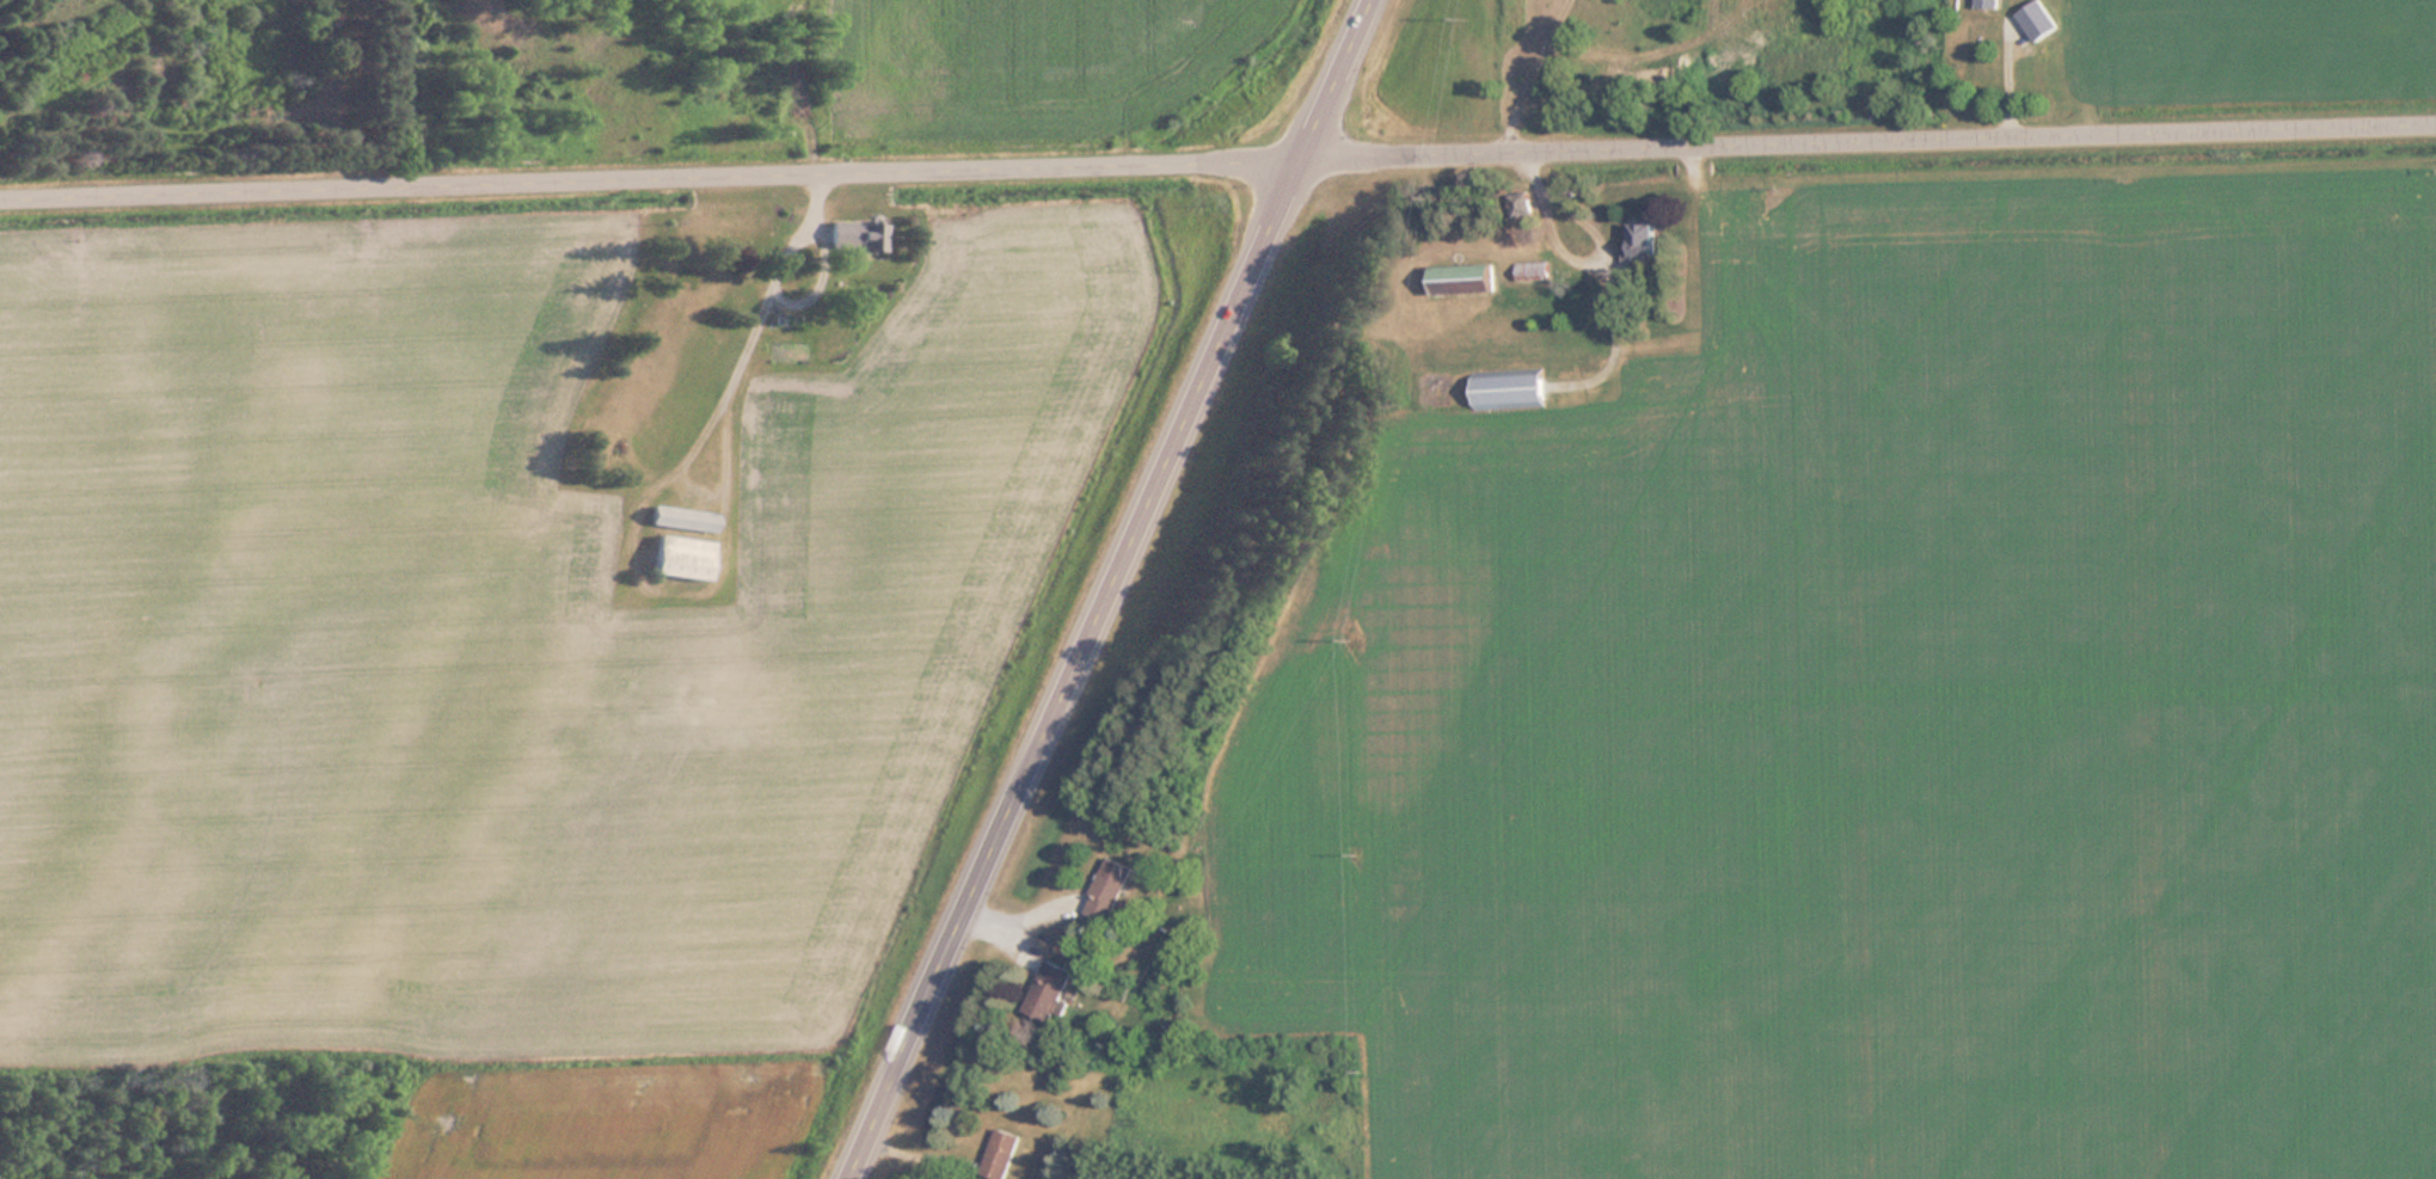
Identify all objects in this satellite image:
building: (1987, 4)
building: (2036, 20)
road: (1217, 159)
building: (1517, 204)
building: (855, 237)
building: (1640, 242)
building: (1460, 281)
building: (1507, 391)
building: (681, 520)
building: (680, 558)
road: (1107, 584)
building: (1107, 890)
building: (1045, 993)
building: (1000, 1154)
road: (852, 1174)

